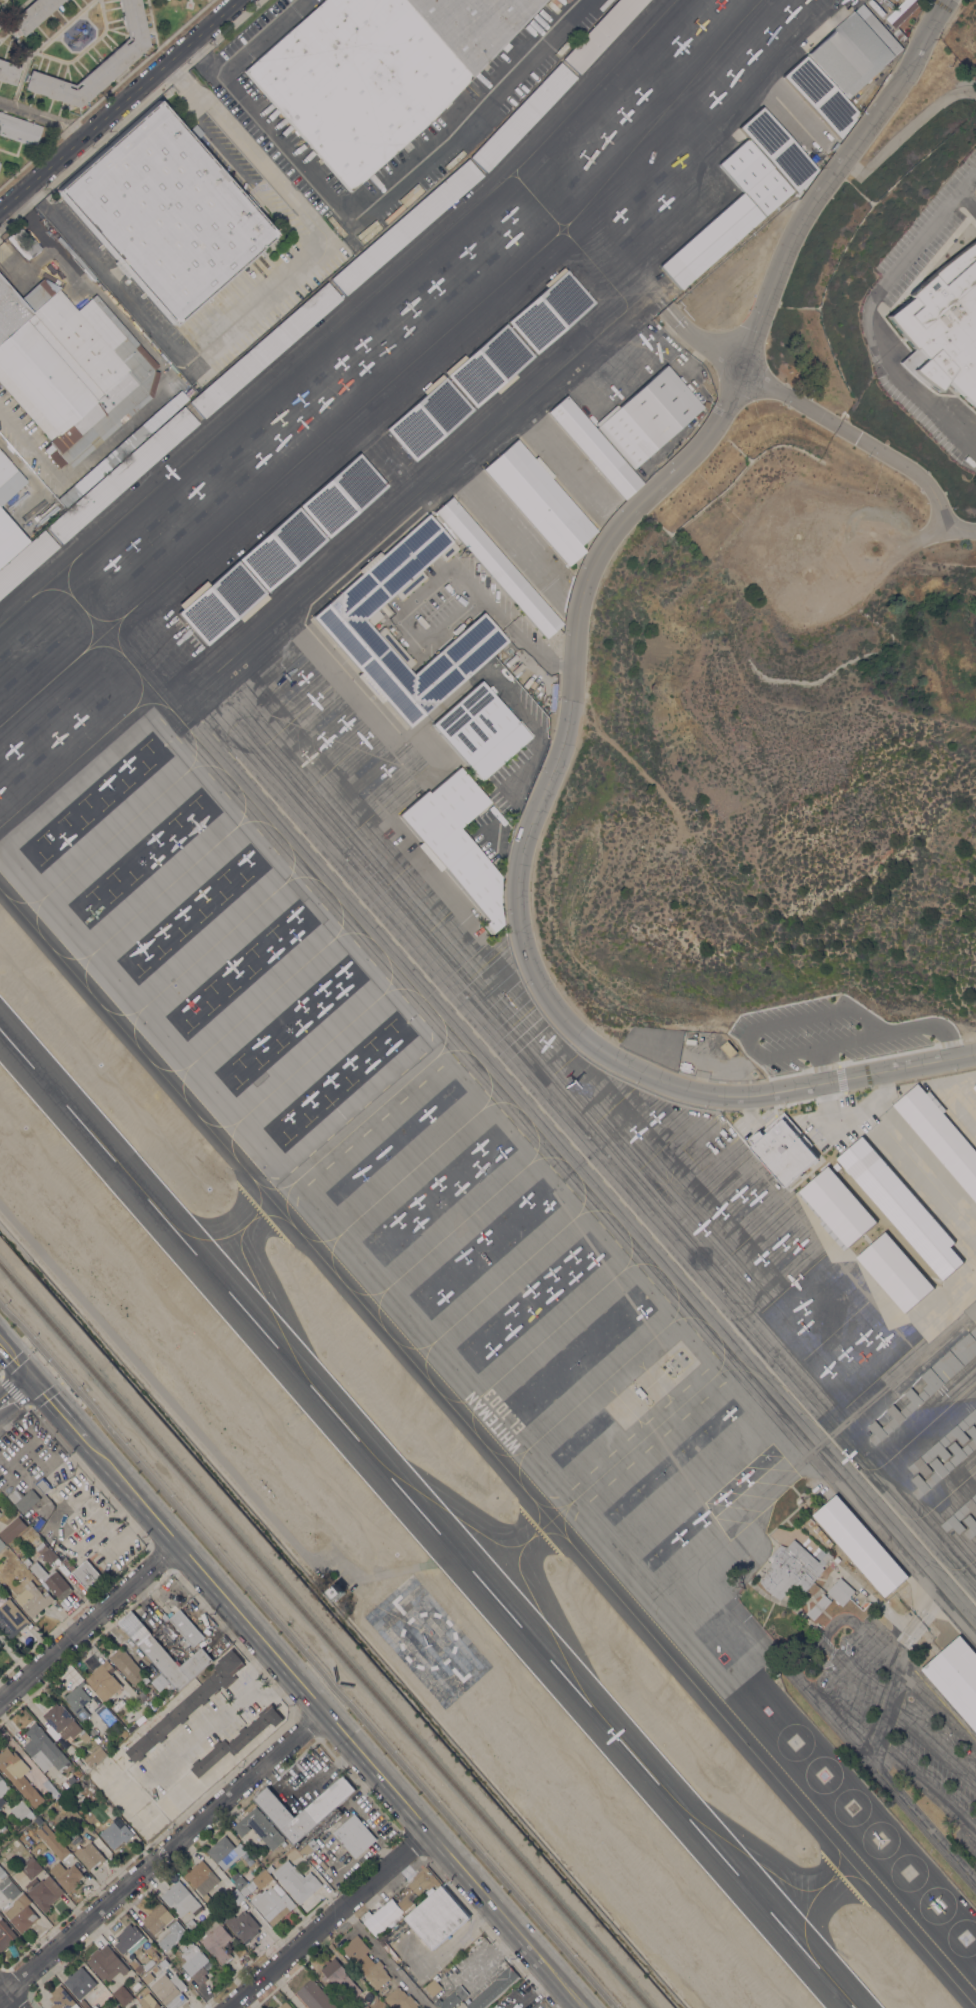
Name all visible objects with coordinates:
building: (903, 11)
building: (32, 15)
airport hangar: (601, 33)
building: (601, 33)
building: (900, 34)
airport hangar: (855, 50)
building: (855, 50)
building: (119, 58)
road: (202, 61)
building: (378, 71)
building: (8, 72)
airport hangar: (819, 95)
building: (819, 95)
road: (116, 103)
road: (27, 112)
airport hangar: (521, 118)
building: (521, 118)
road: (67, 129)
building: (19, 130)
building: (301, 145)
airport hangar: (779, 149)
building: (779, 149)
building: (307, 153)
airport hangar: (754, 177)
building: (754, 177)
road: (968, 182)
road: (355, 212)
building: (166, 213)
airport hangar: (406, 227)
building: (406, 227)
airport hangar: (710, 241)
building: (710, 241)
building: (5, 243)
road: (27, 270)
road: (288, 283)
airport hangar: (550, 312)
building: (550, 312)
road: (867, 322)
building: (943, 326)
airport hangar: (265, 349)
building: (265, 349)
building: (66, 364)
airport hangar: (489, 365)
building: (489, 365)
road: (161, 375)
airport hangar: (648, 417)
building: (648, 417)
road: (825, 418)
airport hangar: (429, 419)
building: (429, 419)
airport hangar: (594, 447)
building: (594, 447)
building: (119, 452)
building: (5, 469)
airport hangar: (122, 475)
building: (122, 475)
airport hangar: (342, 496)
building: (342, 496)
airport hangar: (540, 502)
building: (540, 502)
building: (8, 539)
airport hangar: (281, 549)
building: (281, 549)
airport hangar: (25, 561)
building: (25, 561)
airport hangar: (498, 568)
building: (498, 568)
road: (443, 570)
airport hangar: (221, 603)
building: (221, 603)
building: (341, 622)
road: (572, 682)
building: (480, 731)
airport hangar: (456, 840)
building: (456, 840)
airport apron: (215, 854)
building: (470, 906)
road: (921, 1025)
parking lot: (829, 1032)
building: (728, 1048)
road: (781, 1052)
road: (827, 1062)
airport: (499, 1064)
airport hangar: (974, 1086)
building: (974, 1086)
road: (882, 1089)
airport apron: (956, 1102)
airport hangar: (940, 1136)
building: (940, 1136)
building: (783, 1148)
road: (929, 1167)
airport hangar: (837, 1205)
building: (837, 1205)
airport hangar: (900, 1205)
building: (900, 1205)
airport taxiway: (236, 1232)
building: (895, 1271)
road: (15, 1360)
airport hangar: (950, 1361)
building: (950, 1361)
traffic signals: (30, 1378)
road: (13, 1391)
road: (15, 1391)
road: (56, 1408)
airport hangar: (897, 1414)
building: (897, 1414)
airport hangar: (943, 1444)
building: (943, 1444)
airport taxiway: (487, 1450)
airport hangar: (944, 1463)
building: (944, 1463)
building: (43, 1484)
building: (16, 1495)
building: (27, 1500)
airport hangar: (960, 1515)
building: (960, 1515)
airport runway: (426, 1519)
building: (810, 1521)
airport hangar: (970, 1525)
building: (970, 1525)
building: (12, 1529)
building: (2, 1544)
airport hangar: (860, 1545)
building: (860, 1545)
airport taxiway: (514, 1550)
building: (48, 1555)
building: (837, 1559)
building: (792, 1568)
building: (87, 1574)
building: (52, 1580)
building: (336, 1590)
building: (841, 1591)
building: (33, 1599)
building: (814, 1612)
building: (10, 1617)
road: (86, 1624)
building: (134, 1627)
building: (186, 1628)
building: (168, 1630)
railway: (324, 1636)
building: (0, 1645)
road: (307, 1656)
building: (175, 1662)
building: (127, 1665)
airport hangar: (956, 1676)
building: (956, 1676)
building: (104, 1680)
building: (159, 1682)
road: (243, 1696)
building: (78, 1701)
building: (152, 1704)
building: (188, 1704)
building: (105, 1714)
building: (60, 1721)
road: (329, 1724)
parking lot: (899, 1724)
building: (86, 1735)
road: (195, 1737)
building: (257, 1737)
road: (876, 1738)
building: (97, 1739)
building: (237, 1739)
road: (932, 1747)
building: (44, 1749)
building: (94, 1755)
building: (78, 1772)
building: (18, 1775)
building: (71, 1779)
building: (83, 1782)
building: (3, 1789)
road: (925, 1789)
building: (319, 1808)
building: (21, 1810)
building: (38, 1820)
building: (61, 1824)
building: (3, 1828)
building: (56, 1828)
building: (259, 1828)
building: (115, 1834)
building: (353, 1835)
building: (74, 1837)
building: (52, 1840)
building: (309, 1847)
building: (225, 1852)
building: (89, 1855)
road: (159, 1856)
building: (31, 1867)
building: (269, 1867)
building: (2, 1873)
building: (66, 1875)
building: (202, 1879)
building: (238, 1880)
building: (296, 1881)
building: (9, 1887)
building: (419, 1887)
building: (43, 1891)
airport taxiway: (812, 1892)
building: (235, 1895)
building: (268, 1898)
building: (180, 1899)
building: (20, 1912)
building: (381, 1916)
building: (437, 1917)
road: (325, 1920)
building: (163, 1924)
building: (191, 1926)
building: (242, 1926)
helipad: (949, 1928)
building: (5, 1934)
building: (127, 1938)
building: (216, 1941)
building: (389, 1949)
road: (385, 1956)
building: (194, 1961)
building: (366, 1961)
building: (163, 1962)
building: (106, 1963)
building: (141, 1965)
building: (155, 1968)
building: (340, 1977)
building: (147, 1978)
building: (80, 1982)
building: (432, 1987)
building: (494, 1989)
building: (169, 1990)
building: (122, 1995)
building: (315, 1996)
road: (9, 1997)
building: (451, 1998)
building: (62, 1999)
building: (400, 1999)
building: (148, 2002)
building: (84, 2003)
building: (285, 2005)
building: (95, 2006)
building: (116, 2007)

